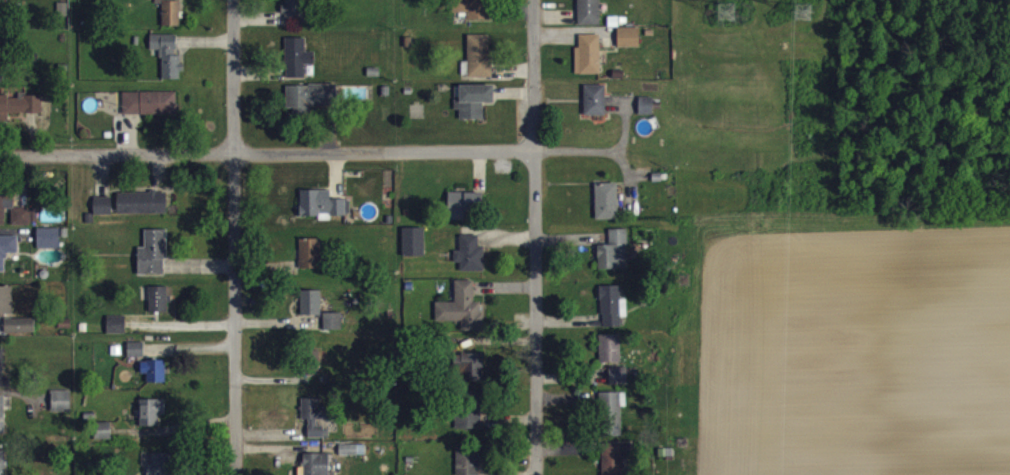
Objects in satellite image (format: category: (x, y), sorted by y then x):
power tower: (727, 10)
building: (476, 13)
building: (296, 14)
building: (171, 16)
building: (589, 16)
power tower: (800, 20)
building: (629, 45)
building: (590, 62)
building: (168, 63)
building: (480, 64)
building: (298, 65)
building: (311, 105)
building: (475, 108)
building: (596, 108)
building: (151, 110)
building: (646, 113)
building: (20, 114)
road: (624, 132)
road: (266, 153)
road: (576, 153)
road: (627, 179)
building: (6, 207)
building: (607, 209)
building: (143, 210)
building: (465, 212)
building: (103, 213)
building: (22, 224)
road: (235, 237)
road: (534, 237)
building: (49, 246)
building: (414, 250)
building: (7, 257)
building: (615, 259)
building: (154, 261)
building: (311, 261)
building: (471, 261)
power tower: (683, 280)
building: (159, 306)
building: (6, 308)
building: (311, 310)
building: (613, 314)
building: (463, 315)
building: (333, 329)
building: (117, 332)
building: (20, 333)
building: (610, 356)
building: (136, 357)
building: (314, 370)
building: (470, 375)
building: (155, 378)
building: (3, 380)
building: (619, 384)
building: (61, 409)
building: (315, 417)
building: (470, 417)
building: (152, 419)
building: (613, 420)
building: (2, 423)
building: (104, 438)
building: (353, 457)
building: (616, 462)
building: (468, 465)
building: (3, 466)
building: (162, 468)
building: (317, 468)

